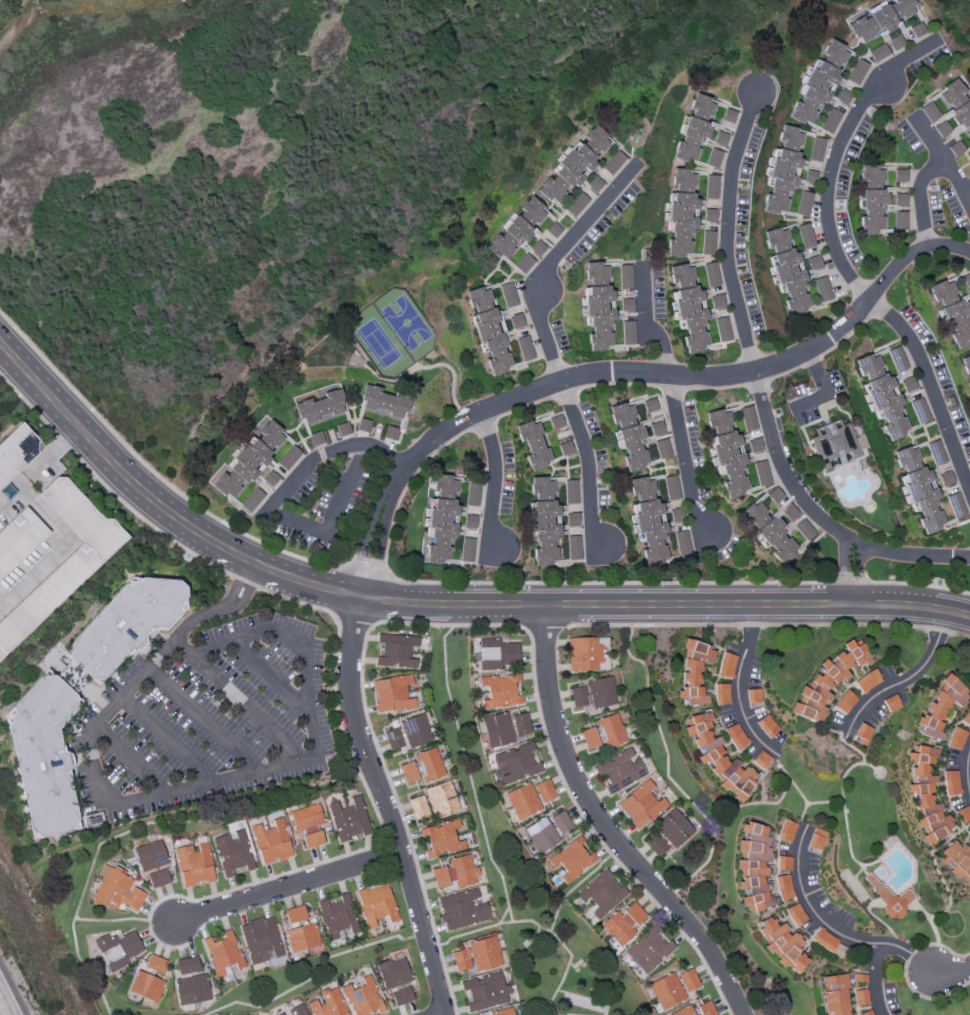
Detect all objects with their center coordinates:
building: (882, 19)
road: (14, 20)
building: (896, 42)
building: (879, 53)
building: (858, 72)
building: (819, 82)
building: (703, 106)
building: (957, 106)
building: (929, 112)
building: (729, 116)
building: (831, 121)
building: (691, 141)
building: (817, 149)
building: (713, 158)
road: (942, 162)
building: (613, 163)
building: (573, 166)
building: (783, 170)
building: (872, 174)
building: (900, 175)
building: (969, 178)
building: (682, 181)
building: (712, 188)
building: (901, 200)
road: (919, 200)
building: (804, 204)
building: (873, 211)
building: (709, 215)
building: (901, 221)
building: (681, 225)
building: (551, 232)
building: (806, 236)
building: (520, 237)
building: (707, 242)
road: (948, 249)
building: (814, 263)
road: (839, 263)
building: (786, 269)
building: (711, 274)
building: (626, 277)
building: (965, 280)
building: (822, 289)
building: (509, 295)
building: (969, 299)
building: (598, 305)
building: (689, 306)
building: (951, 312)
building: (722, 329)
building: (489, 330)
park: (393, 333)
building: (629, 333)
road: (547, 342)
building: (526, 349)
building: (897, 359)
road: (424, 368)
building: (966, 369)
road: (670, 377)
road: (821, 387)
road: (758, 388)
building: (882, 396)
road: (672, 400)
building: (383, 402)
road: (28, 404)
building: (321, 404)
building: (650, 405)
road: (526, 406)
building: (747, 419)
road: (465, 420)
building: (555, 422)
building: (363, 425)
road: (485, 425)
building: (343, 429)
building: (656, 429)
building: (390, 433)
building: (628, 436)
building: (317, 439)
road: (64, 443)
building: (533, 444)
building: (754, 445)
building: (836, 445)
building: (565, 448)
building: (662, 448)
building: (17, 452)
building: (726, 453)
road: (324, 454)
road: (49, 458)
building: (289, 458)
building: (249, 460)
building: (761, 473)
building: (270, 478)
road: (160, 479)
road: (493, 481)
building: (671, 488)
building: (918, 489)
building: (571, 492)
building: (472, 494)
road: (10, 498)
building: (251, 499)
building: (789, 513)
building: (675, 515)
road: (332, 516)
building: (572, 519)
building: (647, 520)
road: (372, 521)
building: (440, 521)
building: (470, 521)
building: (544, 521)
road: (147, 523)
road: (385, 525)
building: (19, 540)
road: (60, 546)
building: (573, 547)
building: (467, 550)
building: (64, 562)
road: (355, 572)
road: (842, 572)
road: (858, 577)
road: (383, 578)
road: (850, 578)
road: (244, 583)
road: (519, 583)
road: (914, 586)
road: (367, 589)
road: (439, 609)
road: (356, 618)
building: (127, 624)
road: (653, 625)
road: (755, 625)
road: (848, 625)
road: (469, 626)
road: (541, 626)
road: (938, 633)
road: (960, 635)
building: (395, 651)
building: (496, 654)
building: (584, 654)
road: (335, 656)
building: (727, 666)
building: (695, 672)
road: (272, 675)
road: (903, 678)
building: (868, 681)
building: (827, 682)
road: (737, 684)
building: (500, 691)
building: (594, 693)
building: (392, 694)
building: (845, 702)
building: (941, 706)
road: (247, 707)
parking lot: (208, 715)
road: (203, 718)
building: (966, 718)
building: (521, 724)
building: (497, 730)
building: (609, 730)
road: (659, 731)
building: (408, 733)
building: (736, 736)
road: (168, 737)
building: (589, 738)
building: (956, 739)
road: (845, 743)
building: (45, 756)
road: (132, 757)
building: (718, 757)
building: (760, 760)
building: (517, 763)
building: (429, 765)
building: (620, 770)
road: (762, 771)
road: (967, 771)
building: (408, 773)
road: (469, 774)
building: (950, 783)
road: (186, 786)
road: (796, 789)
building: (545, 790)
building: (926, 795)
building: (441, 800)
building: (522, 801)
road: (823, 803)
building: (641, 805)
road: (808, 806)
building: (418, 807)
road: (383, 809)
building: (963, 815)
building: (349, 820)
road: (721, 822)
building: (561, 823)
road: (804, 823)
building: (308, 825)
road: (139, 828)
building: (673, 828)
road: (601, 829)
building: (786, 831)
building: (968, 833)
building: (541, 835)
building: (441, 838)
building: (817, 839)
building: (272, 842)
building: (658, 845)
road: (849, 850)
building: (233, 852)
building: (151, 856)
building: (572, 859)
building: (956, 861)
building: (194, 864)
road: (871, 864)
building: (754, 867)
road: (937, 869)
building: (456, 873)
building: (158, 878)
road: (264, 881)
building: (783, 887)
road: (286, 889)
road: (573, 889)
building: (117, 891)
building: (602, 893)
building: (890, 899)
road: (667, 901)
building: (376, 905)
building: (462, 910)
road: (504, 915)
building: (336, 916)
road: (111, 920)
road: (930, 920)
building: (623, 924)
road: (540, 926)
road: (830, 929)
building: (300, 930)
building: (261, 940)
road: (426, 941)
building: (829, 943)
building: (782, 945)
road: (945, 948)
building: (118, 949)
building: (649, 950)
road: (900, 950)
building: (223, 953)
road: (911, 954)
building: (478, 956)
building: (155, 964)
road: (952, 969)
building: (393, 973)
road: (313, 977)
building: (688, 980)
road: (874, 980)
building: (191, 981)
building: (146, 986)
building: (486, 992)
building: (666, 992)
building: (835, 995)
building: (402, 996)
building: (860, 997)
building: (364, 998)
road: (926, 1000)
building: (329, 1003)
road: (3, 1008)
building: (706, 1009)
building: (296, 1011)
building: (683, 1011)
building: (503, 1012)
building: (867, 1013)

